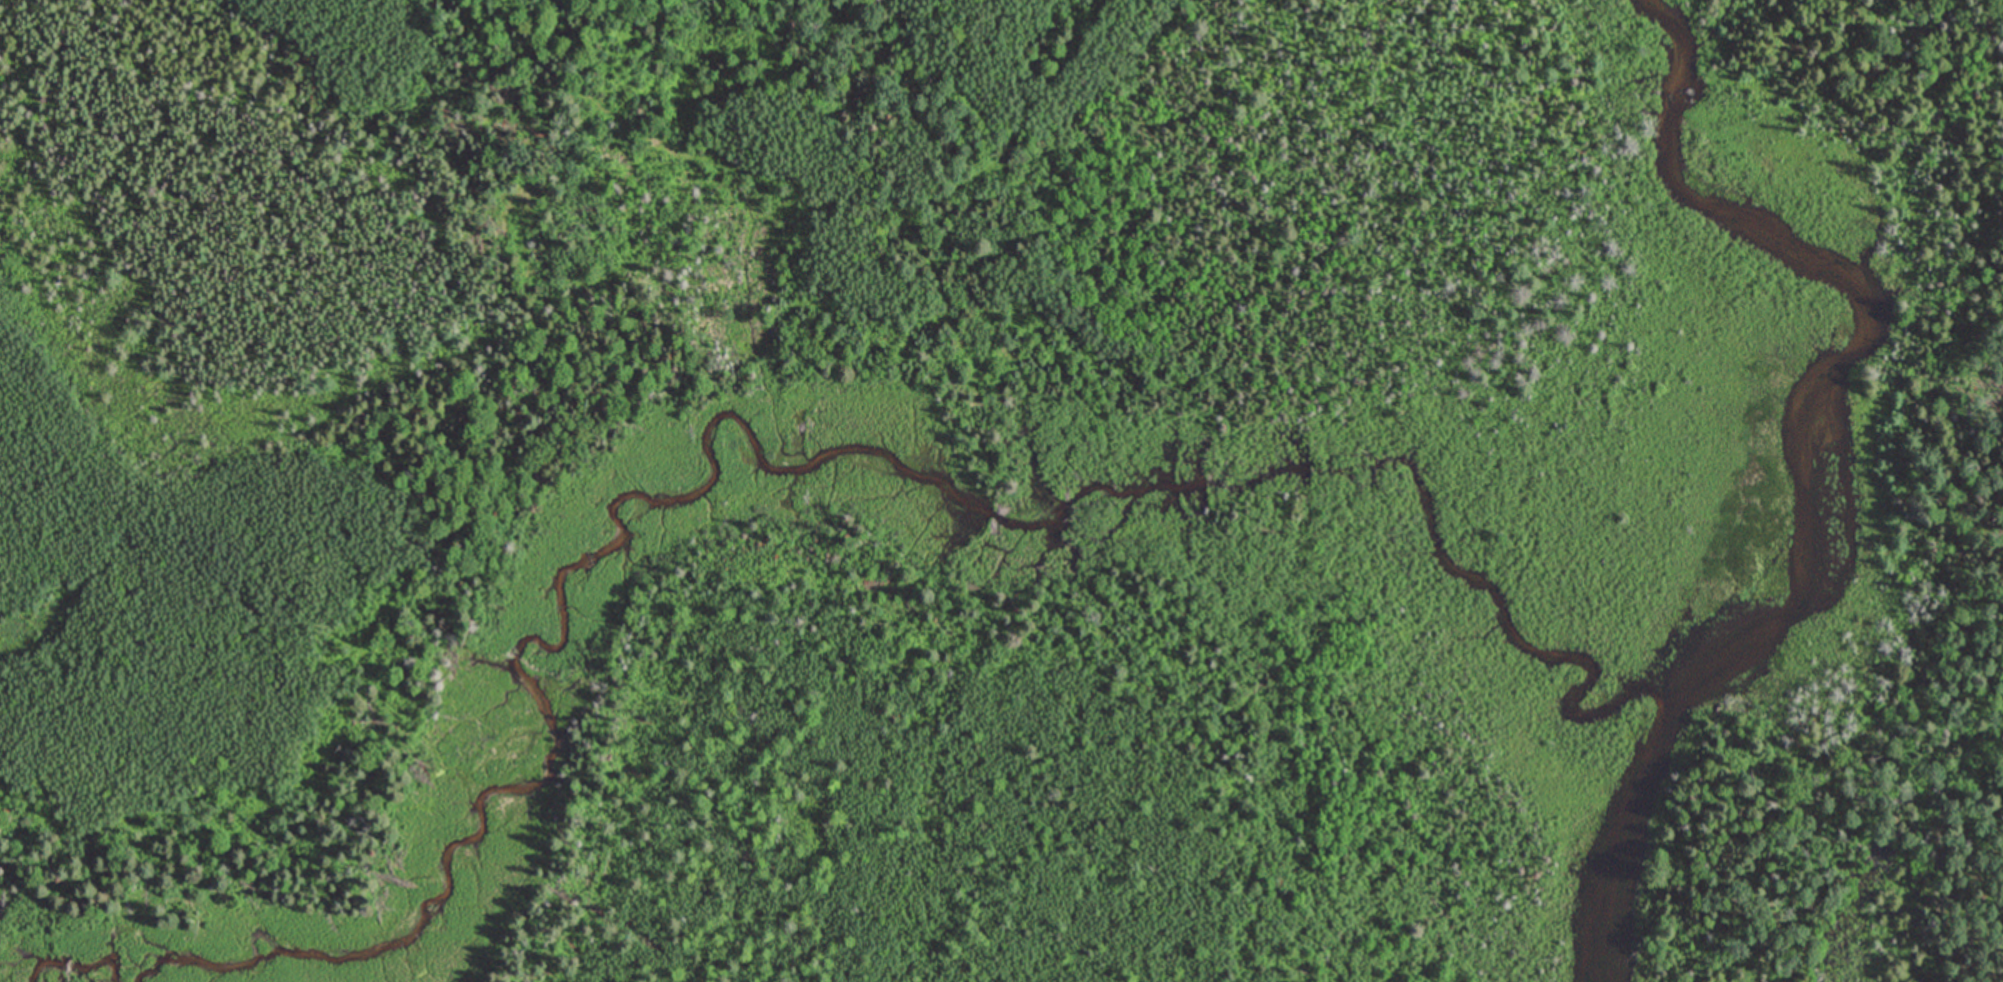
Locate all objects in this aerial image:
river: (753, 444)
river: (1809, 470)
river: (66, 964)

